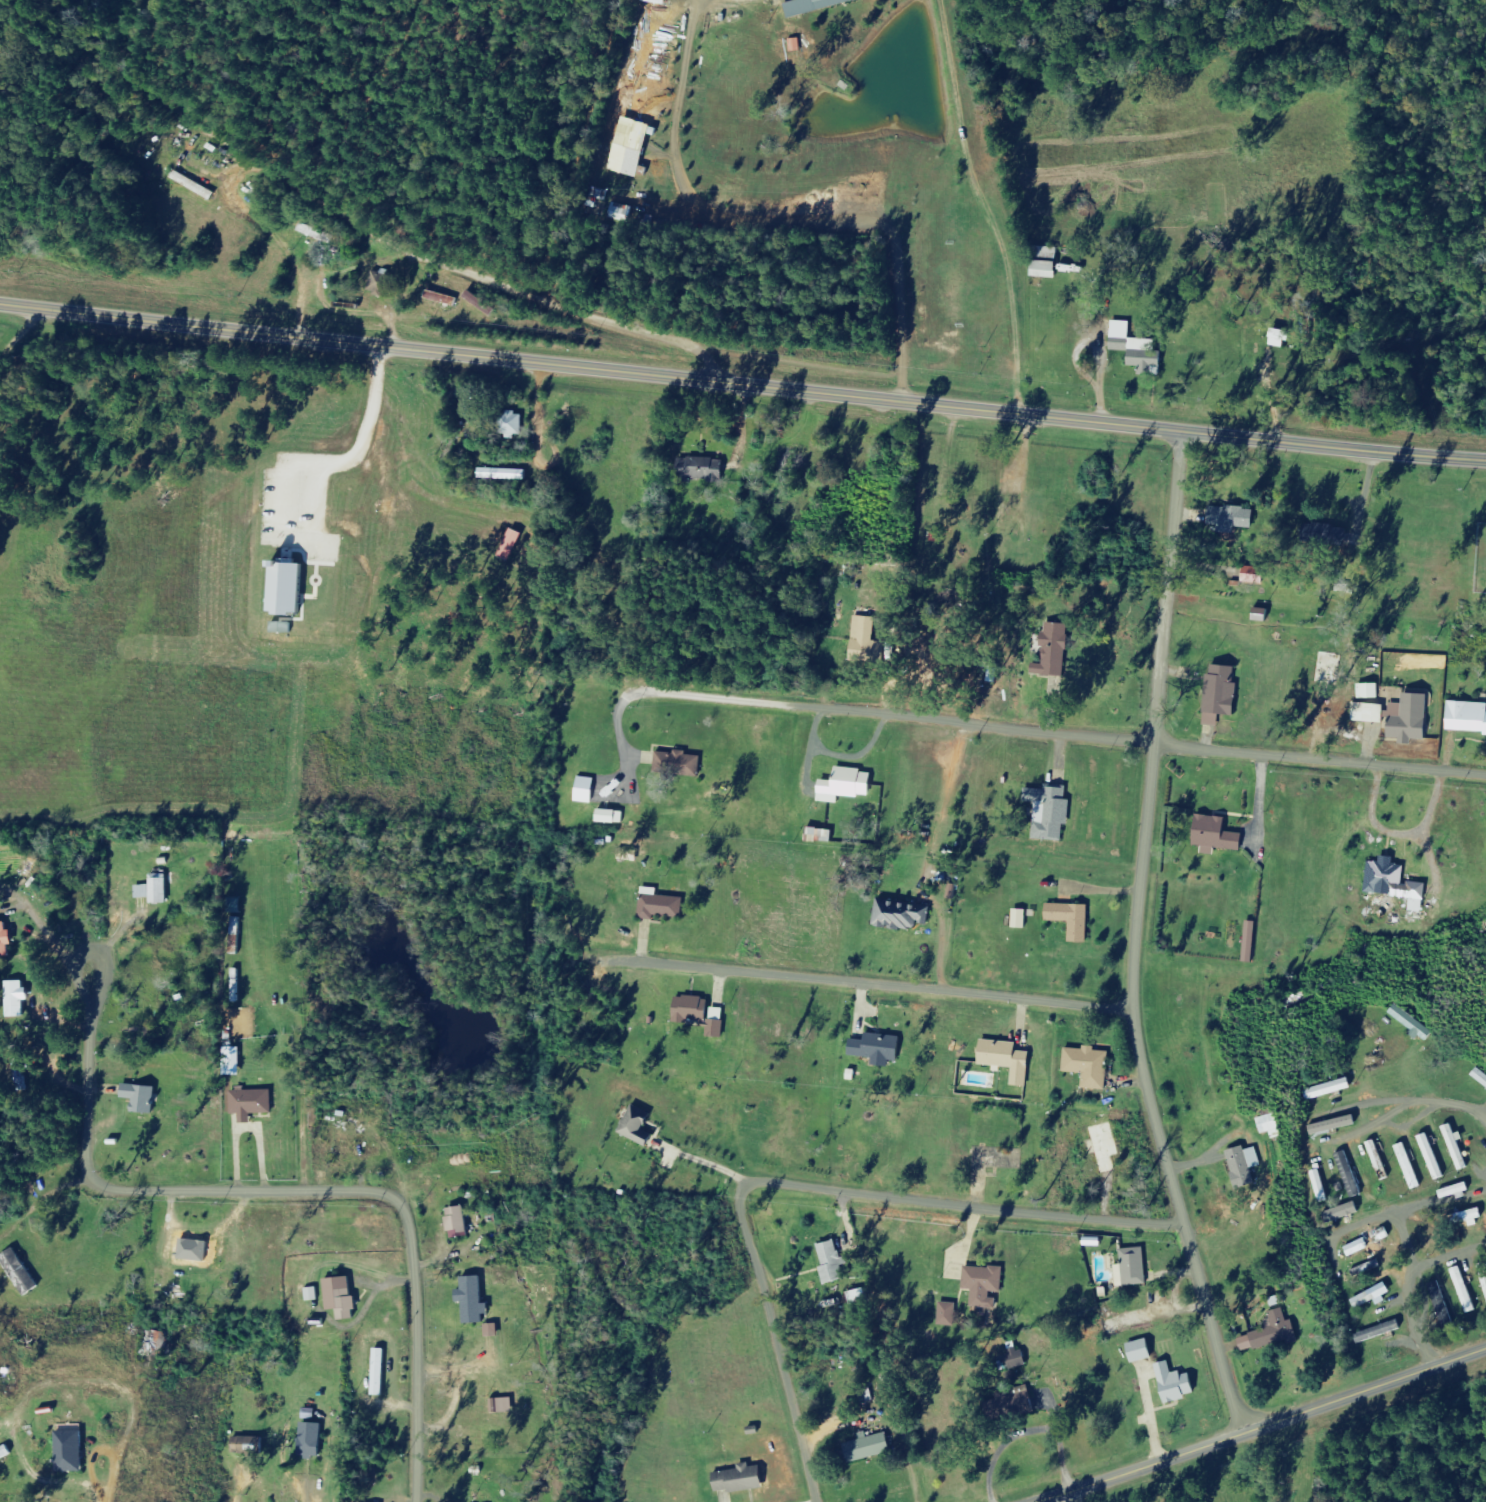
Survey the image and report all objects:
building: (660, 2)
building: (818, 6)
building: (623, 213)
road: (352, 220)
building: (1047, 263)
building: (383, 284)
building: (444, 298)
building: (1282, 339)
building: (1138, 349)
road: (742, 385)
building: (516, 424)
building: (703, 469)
building: (1234, 519)
building: (513, 545)
building: (1256, 576)
building: (290, 590)
building: (1263, 616)
building: (284, 629)
building: (868, 642)
building: (1055, 653)
building: (1365, 691)
building: (1222, 696)
building: (1367, 712)
building: (1405, 717)
building: (1464, 717)
road: (1047, 743)
building: (679, 764)
building: (849, 785)
building: (588, 790)
building: (1052, 812)
building: (613, 817)
building: (1217, 835)
building: (631, 855)
building: (1384, 866)
building: (161, 891)
building: (144, 892)
building: (1418, 895)
building: (661, 905)
building: (903, 914)
building: (1074, 920)
building: (6, 940)
road: (1167, 942)
building: (1252, 942)
building: (17, 998)
road: (892, 1006)
road: (1434, 1006)
building: (700, 1014)
building: (1412, 1023)
building: (878, 1047)
building: (1009, 1059)
building: (234, 1061)
building: (1090, 1066)
building: (1328, 1086)
building: (142, 1097)
building: (253, 1103)
building: (640, 1126)
building: (1271, 1126)
building: (1457, 1148)
building: (1432, 1156)
building: (1379, 1160)
building: (1246, 1166)
building: (1410, 1166)
road: (1355, 1170)
building: (1350, 1174)
building: (1320, 1186)
building: (1348, 1210)
road: (835, 1215)
building: (459, 1222)
building: (1359, 1247)
building: (833, 1262)
building: (1133, 1268)
building: (1368, 1268)
building: (22, 1272)
building: (1483, 1274)
building: (985, 1285)
building: (1464, 1290)
building: (313, 1294)
building: (1374, 1296)
building: (343, 1297)
building: (859, 1298)
building: (475, 1300)
building: (1443, 1304)
building: (949, 1314)
building: (494, 1330)
building: (1380, 1331)
building: (1272, 1333)
building: (1143, 1351)
building: (1019, 1359)
building: (381, 1372)
building: (1178, 1384)
building: (1030, 1401)
road: (1260, 1427)
building: (313, 1440)
building: (248, 1444)
building: (871, 1447)
building: (72, 1451)
building: (6, 1454)
building: (743, 1479)

